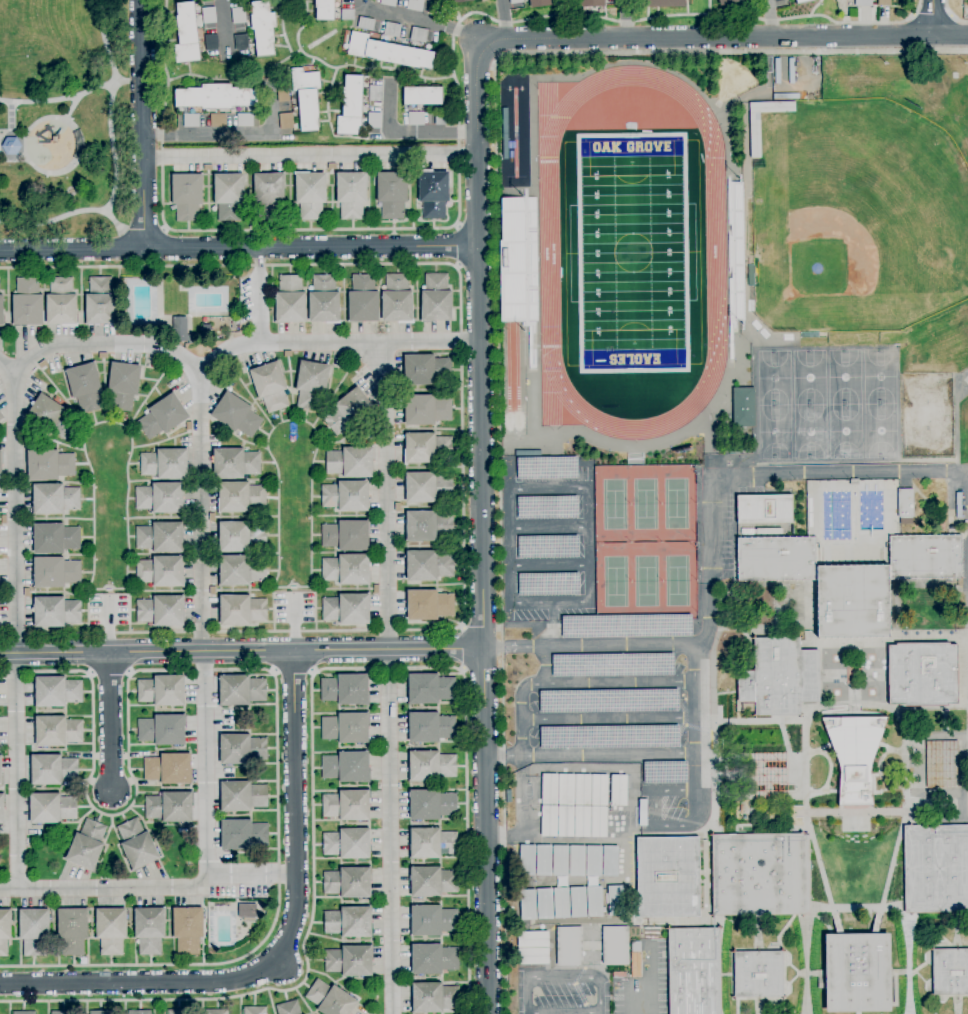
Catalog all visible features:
building: (777, 0)
building: (461, 1)
building: (802, 1)
building: (388, 2)
building: (515, 2)
building: (539, 3)
building: (591, 3)
building: (661, 3)
building: (727, 3)
building: (863, 3)
building: (883, 3)
building: (967, 3)
building: (415, 5)
building: (324, 9)
building: (208, 15)
building: (238, 15)
building: (347, 15)
road: (951, 16)
road: (770, 17)
road: (933, 17)
road: (626, 18)
road: (930, 18)
road: (504, 19)
road: (421, 21)
building: (366, 23)
road: (224, 26)
building: (262, 27)
building: (392, 30)
building: (186, 34)
building: (418, 35)
road: (722, 36)
road: (105, 41)
building: (211, 42)
building: (241, 42)
building: (388, 52)
building: (777, 71)
park: (733, 81)
building: (375, 93)
building: (283, 94)
building: (422, 96)
building: (786, 96)
road: (71, 97)
building: (215, 97)
building: (306, 98)
road: (73, 107)
building: (351, 107)
building: (772, 107)
building: (232, 112)
road: (11, 118)
park: (64, 118)
building: (440, 118)
building: (415, 119)
building: (190, 120)
building: (218, 120)
building: (245, 120)
building: (374, 120)
building: (285, 121)
road: (142, 123)
road: (34, 124)
road: (409, 133)
road: (13, 134)
building: (755, 135)
road: (231, 136)
road: (459, 143)
building: (11, 146)
road: (112, 146)
road: (310, 156)
road: (14, 160)
building: (432, 193)
building: (268, 194)
building: (310, 194)
building: (392, 194)
building: (351, 195)
building: (186, 196)
building: (228, 196)
park: (855, 216)
road: (53, 219)
road: (113, 220)
road: (142, 230)
road: (456, 246)
road: (238, 248)
track: (549, 253)
park: (632, 253)
building: (512, 262)
road: (271, 265)
building: (751, 276)
road: (257, 295)
building: (363, 299)
building: (436, 299)
road: (496, 299)
building: (290, 300)
building: (324, 300)
building: (397, 300)
building: (27, 302)
building: (100, 302)
building: (61, 303)
building: (1, 310)
building: (235, 326)
building: (179, 329)
building: (809, 335)
road: (334, 342)
building: (425, 370)
park: (880, 377)
park: (774, 378)
park: (809, 378)
park: (845, 378)
building: (311, 385)
building: (123, 386)
building: (270, 386)
building: (85, 388)
building: (742, 407)
building: (426, 410)
building: (348, 411)
building: (236, 415)
building: (1, 416)
building: (163, 416)
building: (50, 417)
park: (881, 431)
park: (775, 432)
park: (810, 432)
park: (845, 432)
building: (426, 448)
building: (350, 463)
building: (235, 464)
building: (49, 465)
building: (165, 465)
building: (0, 466)
road: (759, 478)
building: (853, 482)
building: (427, 487)
road: (549, 488)
building: (346, 496)
building: (240, 497)
building: (159, 498)
building: (54, 499)
road: (588, 505)
building: (905, 505)
building: (764, 509)
road: (202, 521)
road: (295, 521)
building: (941, 523)
road: (108, 524)
road: (550, 524)
building: (428, 526)
road: (481, 530)
road: (463, 531)
building: (770, 531)
building: (746, 532)
building: (346, 536)
building: (240, 537)
building: (160, 538)
building: (55, 539)
park: (646, 540)
road: (512, 545)
building: (925, 557)
building: (776, 559)
road: (588, 560)
building: (429, 565)
road: (550, 566)
building: (347, 569)
building: (241, 570)
building: (56, 572)
building: (160, 572)
road: (552, 602)
building: (853, 602)
building: (429, 605)
building: (347, 609)
building: (241, 610)
building: (161, 611)
building: (55, 612)
road: (294, 621)
road: (14, 622)
road: (107, 623)
road: (551, 624)
road: (285, 632)
road: (3, 634)
road: (100, 634)
road: (612, 646)
road: (461, 647)
road: (506, 647)
parking lot: (592, 649)
road: (241, 651)
road: (3, 672)
road: (293, 673)
building: (922, 674)
building: (779, 677)
road: (387, 678)
road: (615, 683)
building: (430, 689)
building: (241, 690)
building: (346, 690)
building: (162, 691)
building: (57, 692)
road: (522, 695)
road: (694, 698)
road: (607, 719)
road: (109, 721)
building: (429, 727)
building: (346, 728)
building: (162, 729)
building: (57, 731)
building: (242, 749)
building: (936, 750)
road: (589, 755)
building: (855, 755)
building: (430, 766)
building: (346, 767)
building: (169, 769)
building: (52, 770)
road: (694, 770)
building: (0, 772)
building: (771, 776)
building: (934, 780)
building: (549, 789)
building: (566, 789)
building: (582, 790)
building: (599, 790)
building: (619, 790)
building: (242, 796)
road: (467, 800)
building: (347, 805)
building: (431, 805)
building: (170, 807)
building: (51, 808)
building: (1, 810)
road: (102, 814)
building: (640, 815)
building: (549, 821)
building: (566, 821)
building: (582, 821)
building: (599, 822)
road: (657, 825)
building: (242, 835)
building: (432, 843)
building: (137, 844)
building: (348, 844)
building: (87, 845)
building: (527, 860)
building: (543, 860)
building: (560, 861)
building: (577, 861)
building: (593, 861)
building: (610, 861)
building: (935, 868)
building: (760, 875)
building: (668, 877)
building: (348, 882)
building: (432, 882)
road: (151, 892)
building: (594, 901)
building: (615, 901)
building: (578, 902)
building: (544, 903)
building: (561, 903)
road: (278, 904)
building: (528, 905)
building: (247, 911)
building: (433, 920)
building: (349, 922)
building: (150, 929)
building: (188, 929)
building: (34, 930)
building: (73, 930)
building: (5, 931)
building: (111, 931)
building: (532, 939)
building: (615, 945)
building: (569, 946)
road: (303, 947)
road: (283, 950)
building: (533, 956)
building: (433, 959)
building: (350, 960)
building: (636, 960)
building: (694, 971)
building: (950, 972)
building: (858, 973)
building: (619, 974)
building: (758, 974)
road: (649, 985)
parking lot: (557, 993)
road: (524, 995)
road: (598, 995)
building: (434, 997)
building: (330, 999)
building: (288, 1008)
building: (255, 1010)
building: (217, 1011)
building: (24, 1012)
building: (63, 1012)
building: (101, 1012)
building: (140, 1012)
building: (177, 1012)
road: (598, 1013)

